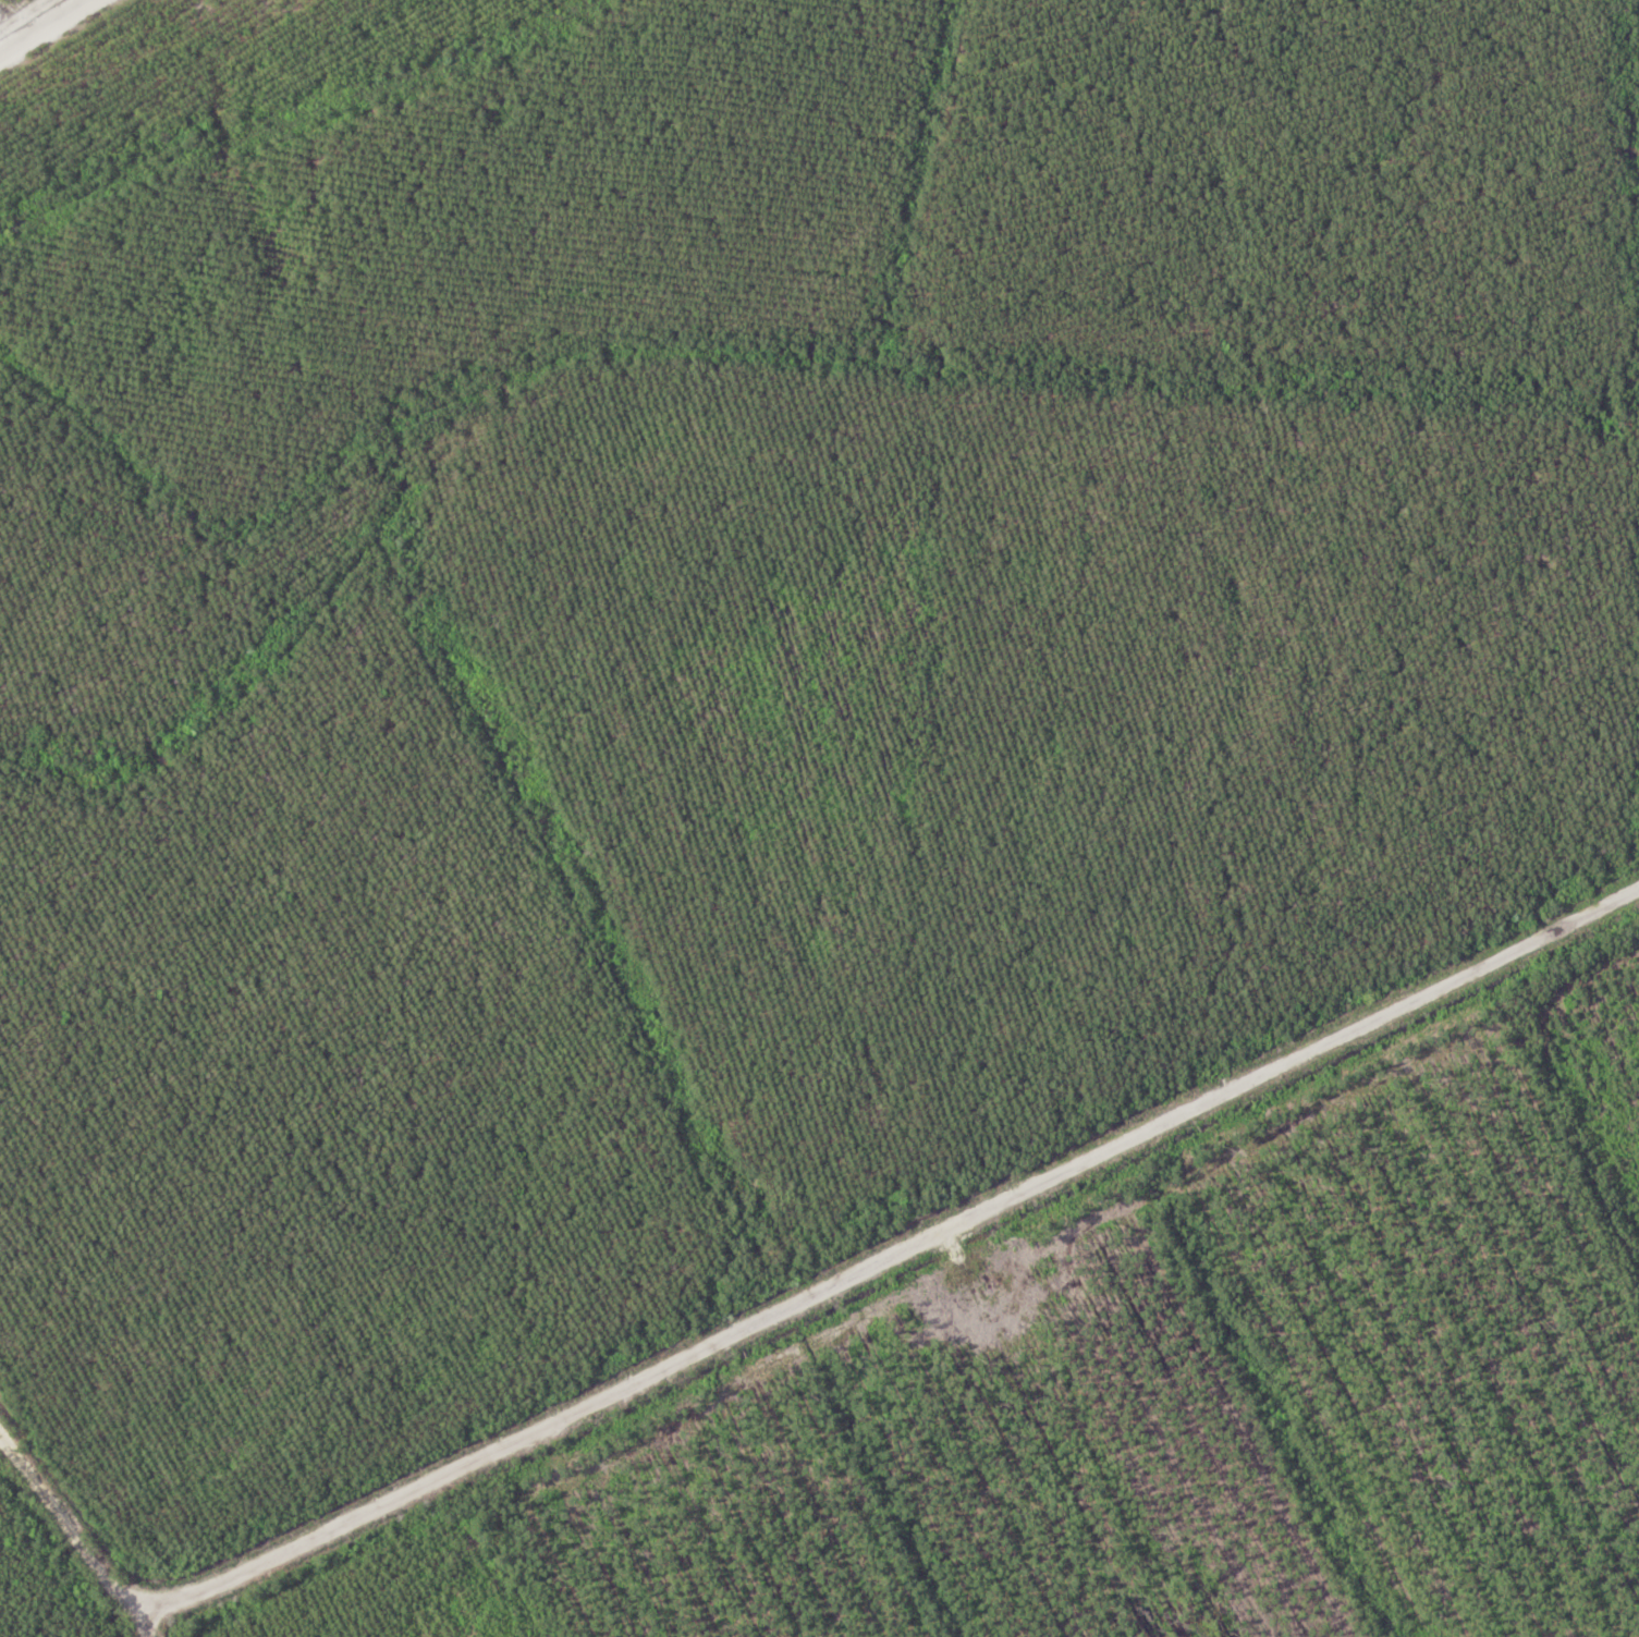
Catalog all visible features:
road: (51, 36)
road: (780, 1265)
road: (137, 1630)

